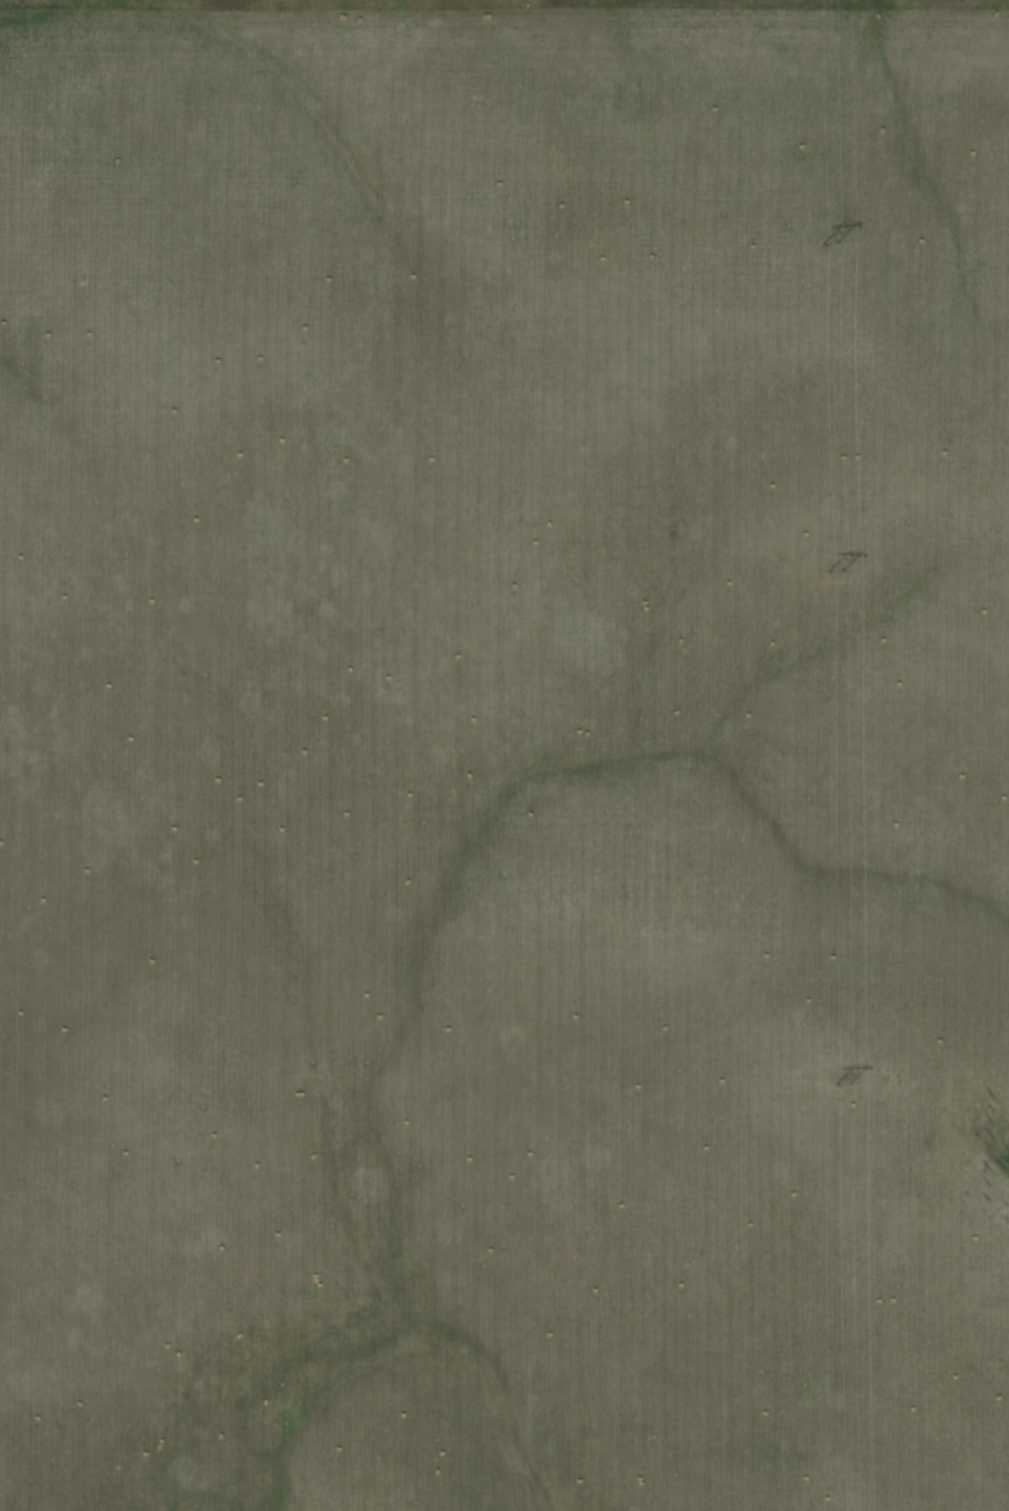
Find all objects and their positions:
power tower: (818, 243)
power tower: (824, 572)
power tower: (839, 1084)

